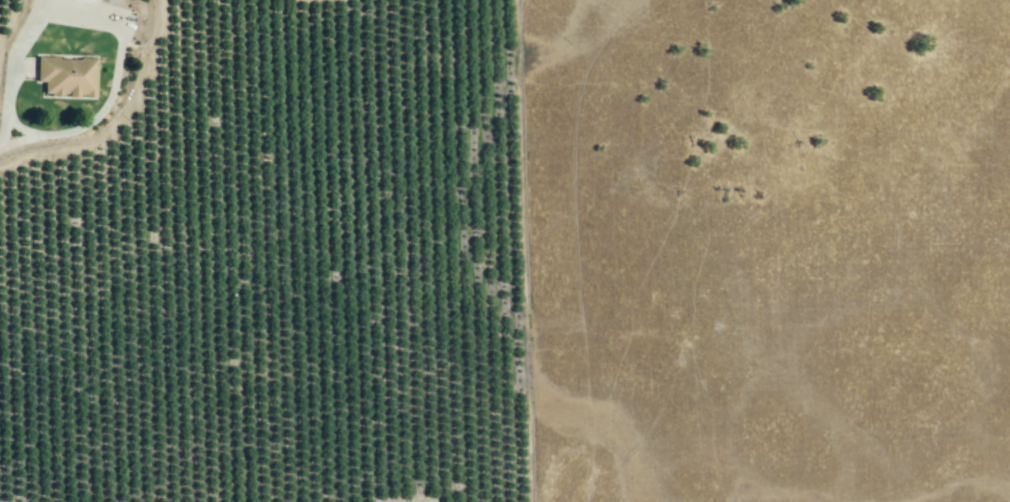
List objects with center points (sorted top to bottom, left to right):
building: (88, 0)
road: (111, 23)
building: (64, 76)
road: (4, 132)
crop: (273, 270)

